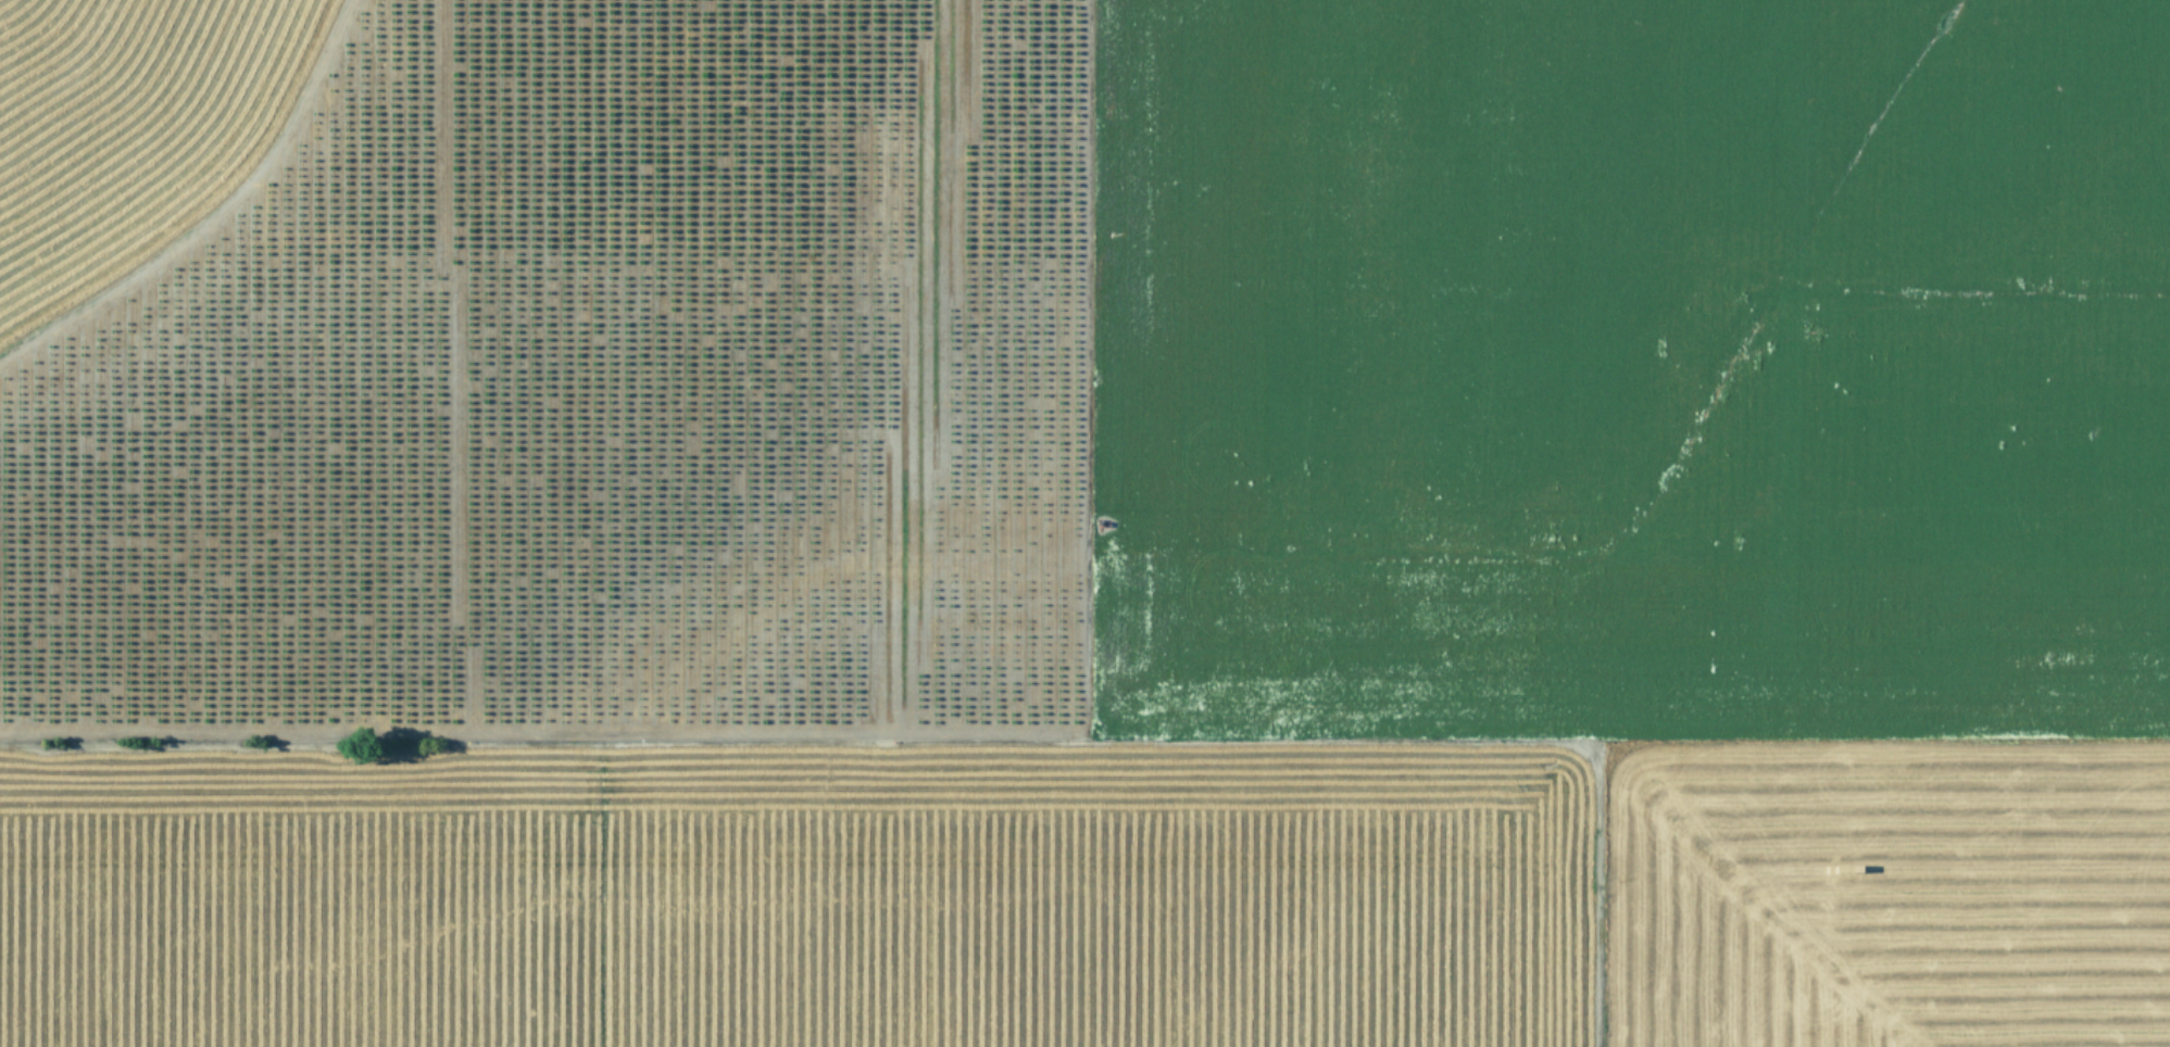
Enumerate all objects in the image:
crop: (1084, 523)

